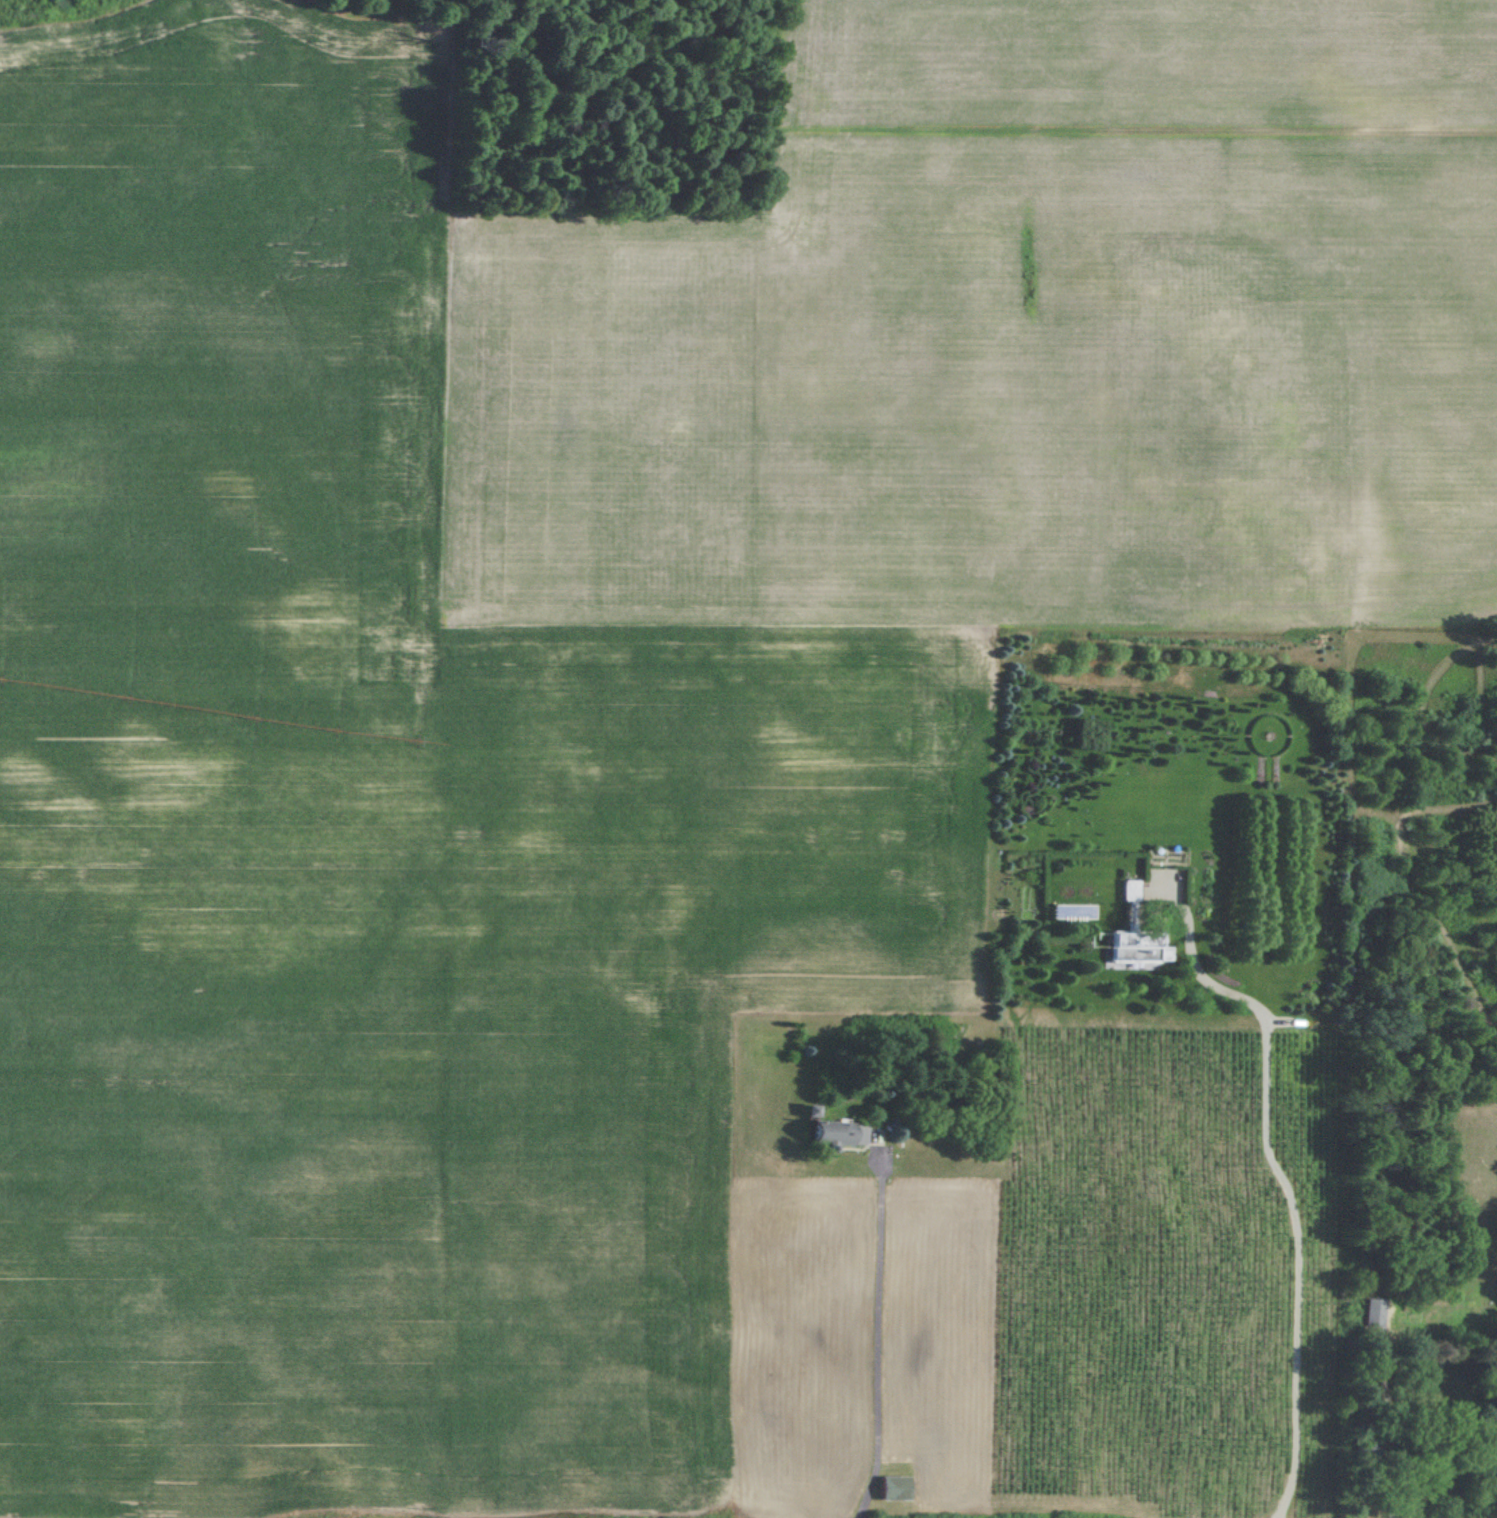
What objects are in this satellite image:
building: (1131, 902)
building: (1136, 951)
building: (829, 1133)
road: (1285, 1176)
building: (1376, 1312)
road: (879, 1338)
building: (887, 1488)

